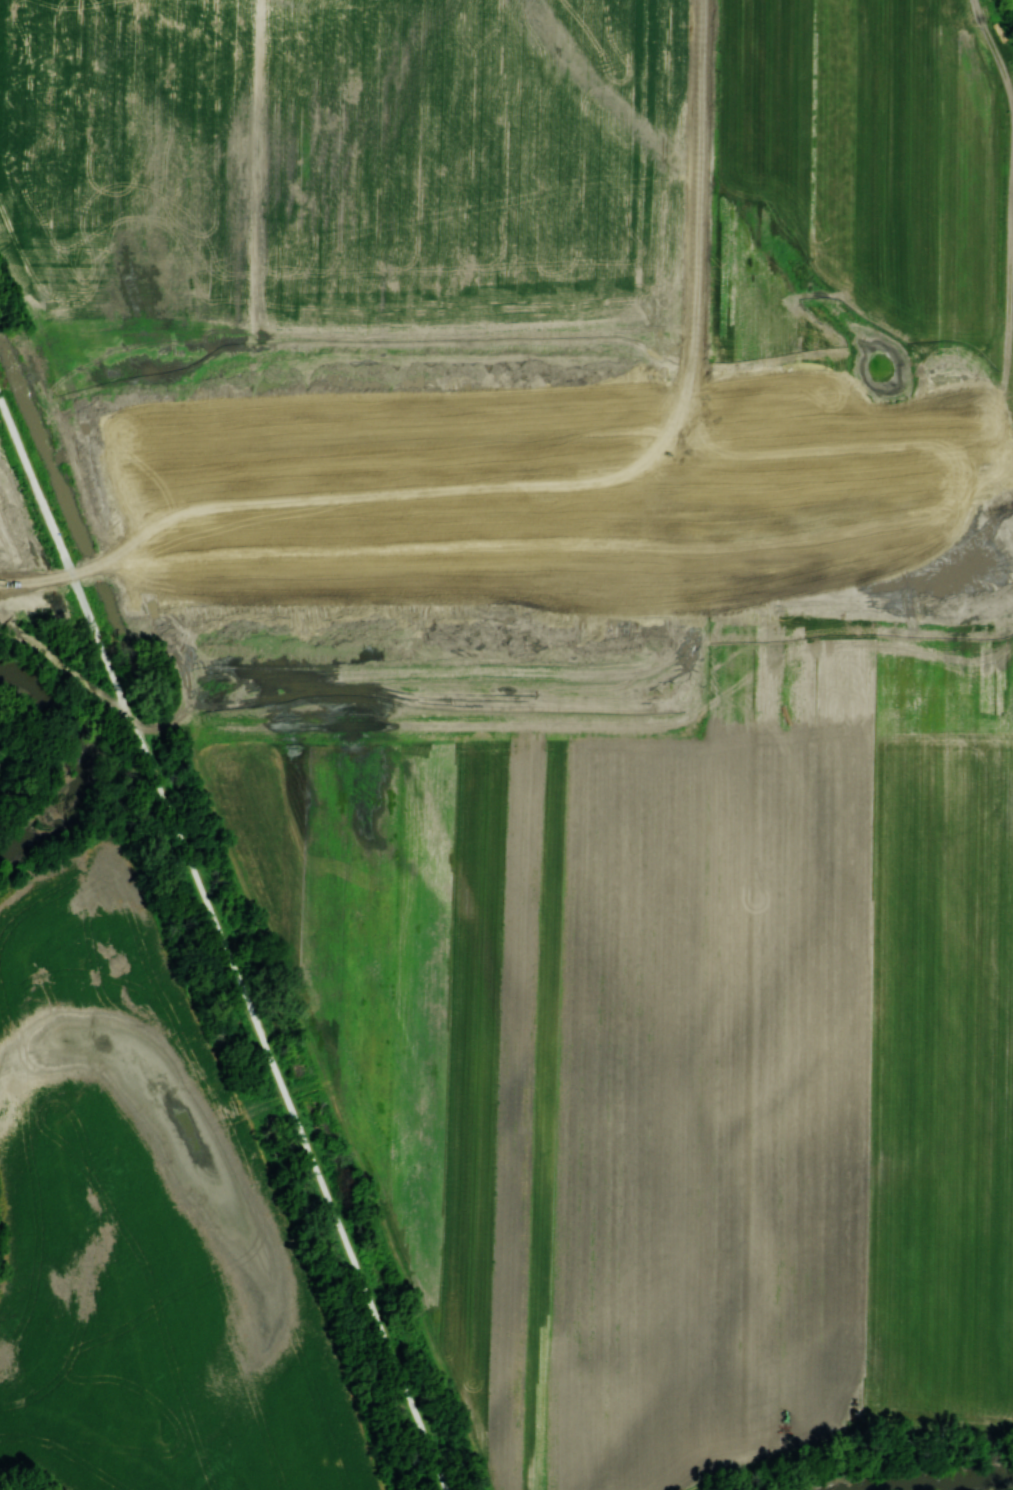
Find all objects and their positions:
road: (551, 478)
river: (85, 761)
road: (227, 944)
river: (933, 1482)

